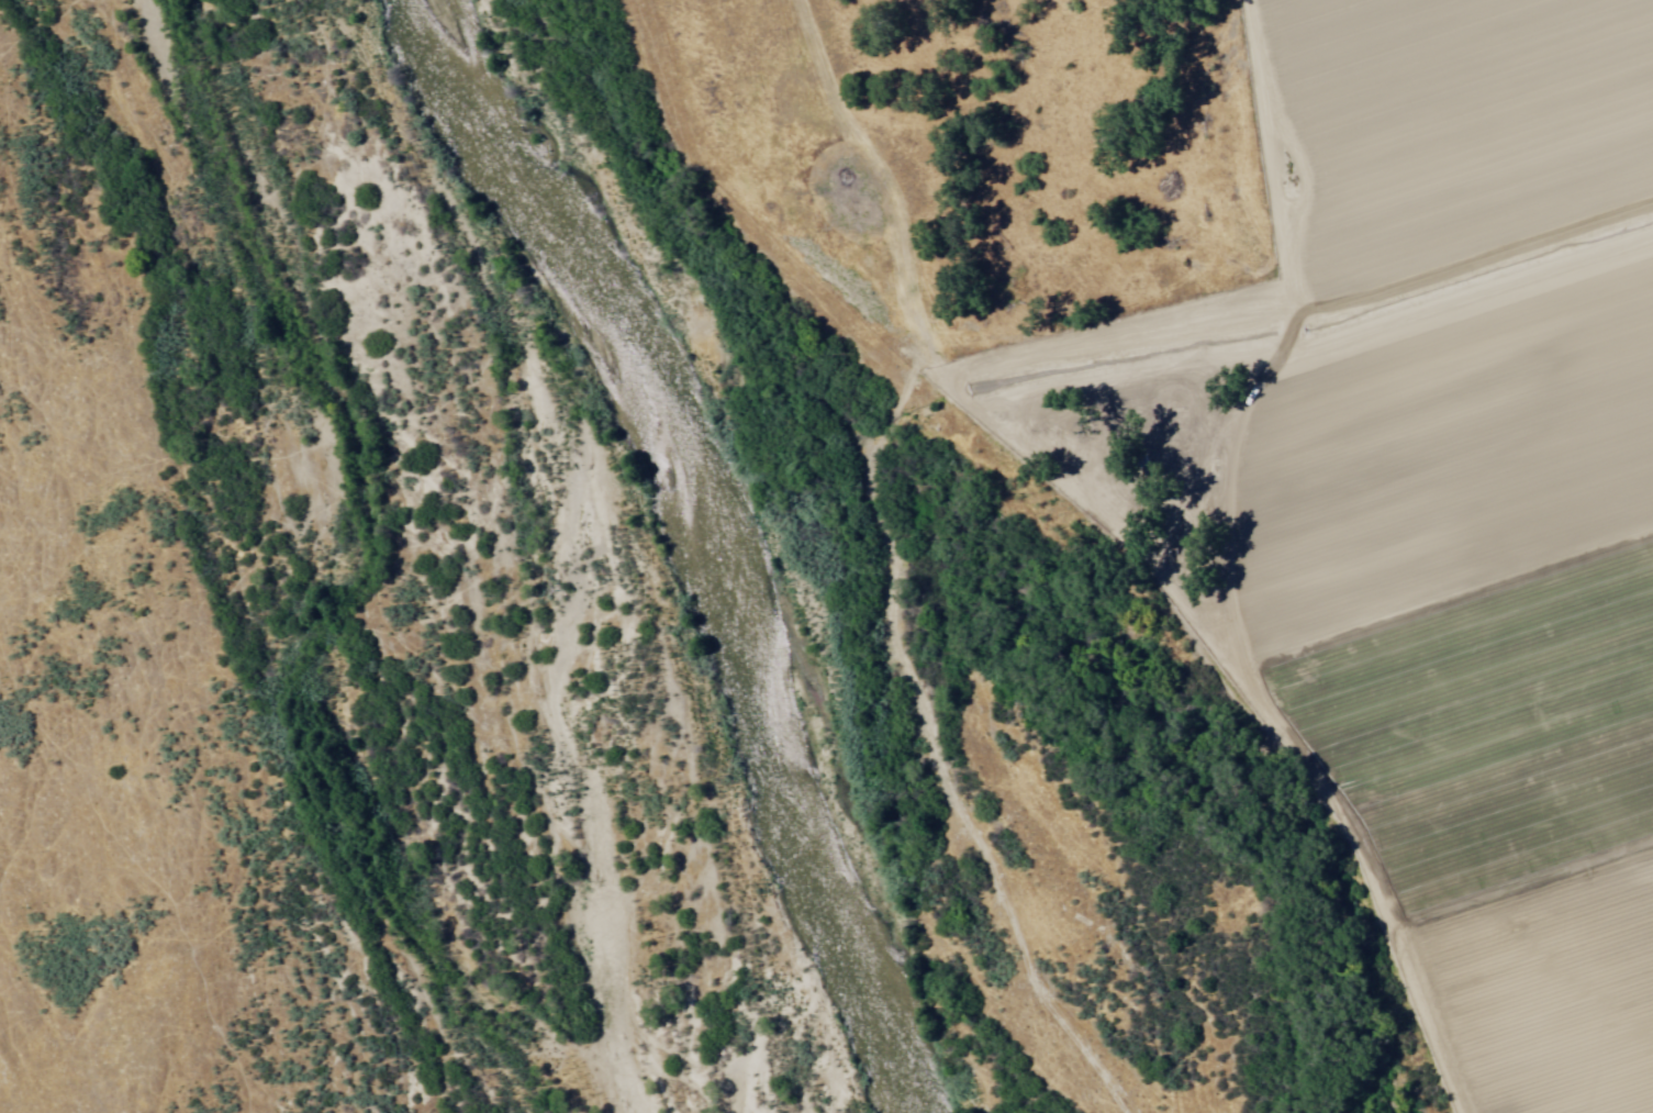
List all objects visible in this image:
crop: (1475, 499)
road: (1070, 539)
river: (695, 542)

